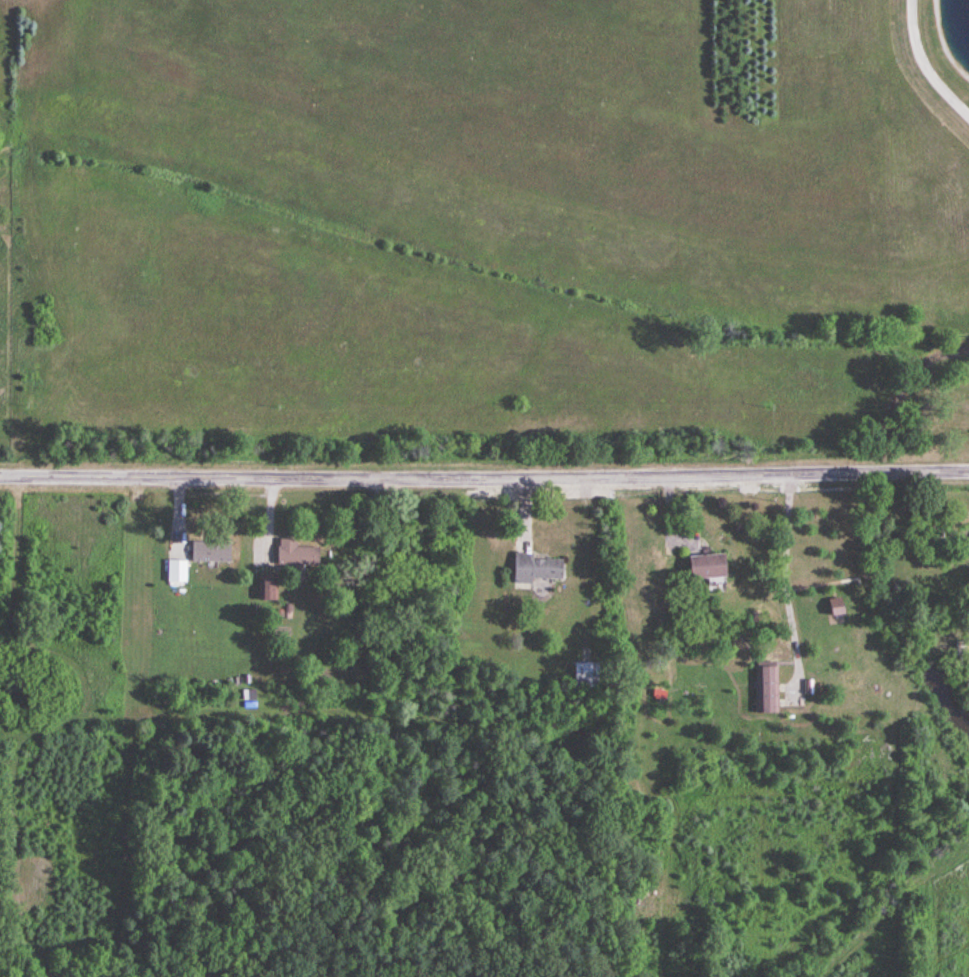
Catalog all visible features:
road: (922, 65)
road: (484, 476)
building: (210, 552)
building: (295, 554)
building: (705, 566)
building: (536, 569)
building: (176, 571)
road: (787, 587)
building: (268, 588)
building: (962, 651)
building: (585, 674)
building: (768, 688)

